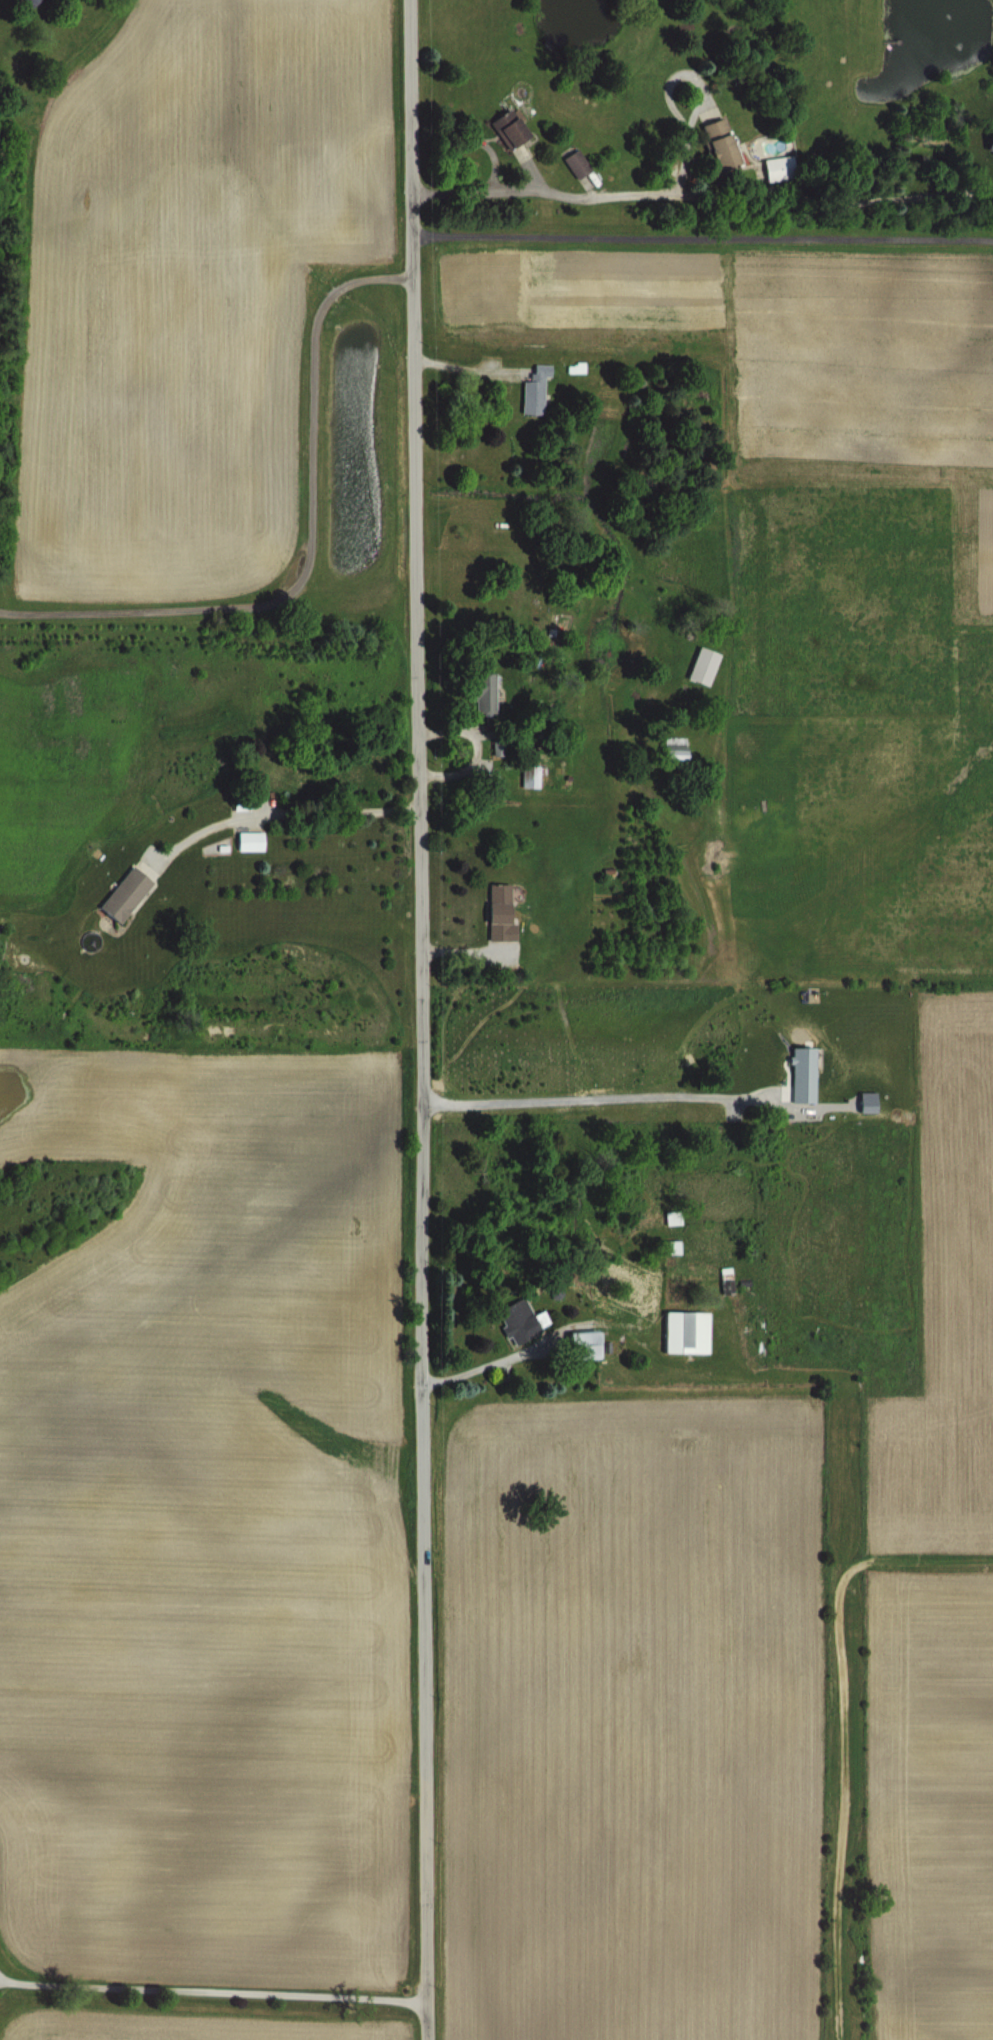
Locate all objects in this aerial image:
building: (24, 1)
building: (504, 127)
building: (987, 139)
building: (712, 142)
building: (574, 163)
building: (775, 168)
road: (557, 184)
road: (823, 205)
road: (700, 218)
building: (530, 391)
road: (302, 536)
building: (699, 666)
building: (477, 692)
building: (670, 749)
building: (284, 776)
building: (529, 776)
road: (619, 783)
road: (276, 808)
building: (246, 841)
building: (120, 894)
building: (495, 914)
road: (413, 1019)
crop: (206, 1066)
road: (597, 1091)
crop: (774, 1265)
building: (517, 1321)
road: (576, 1327)
building: (681, 1333)
building: (580, 1345)
road: (209, 1989)

